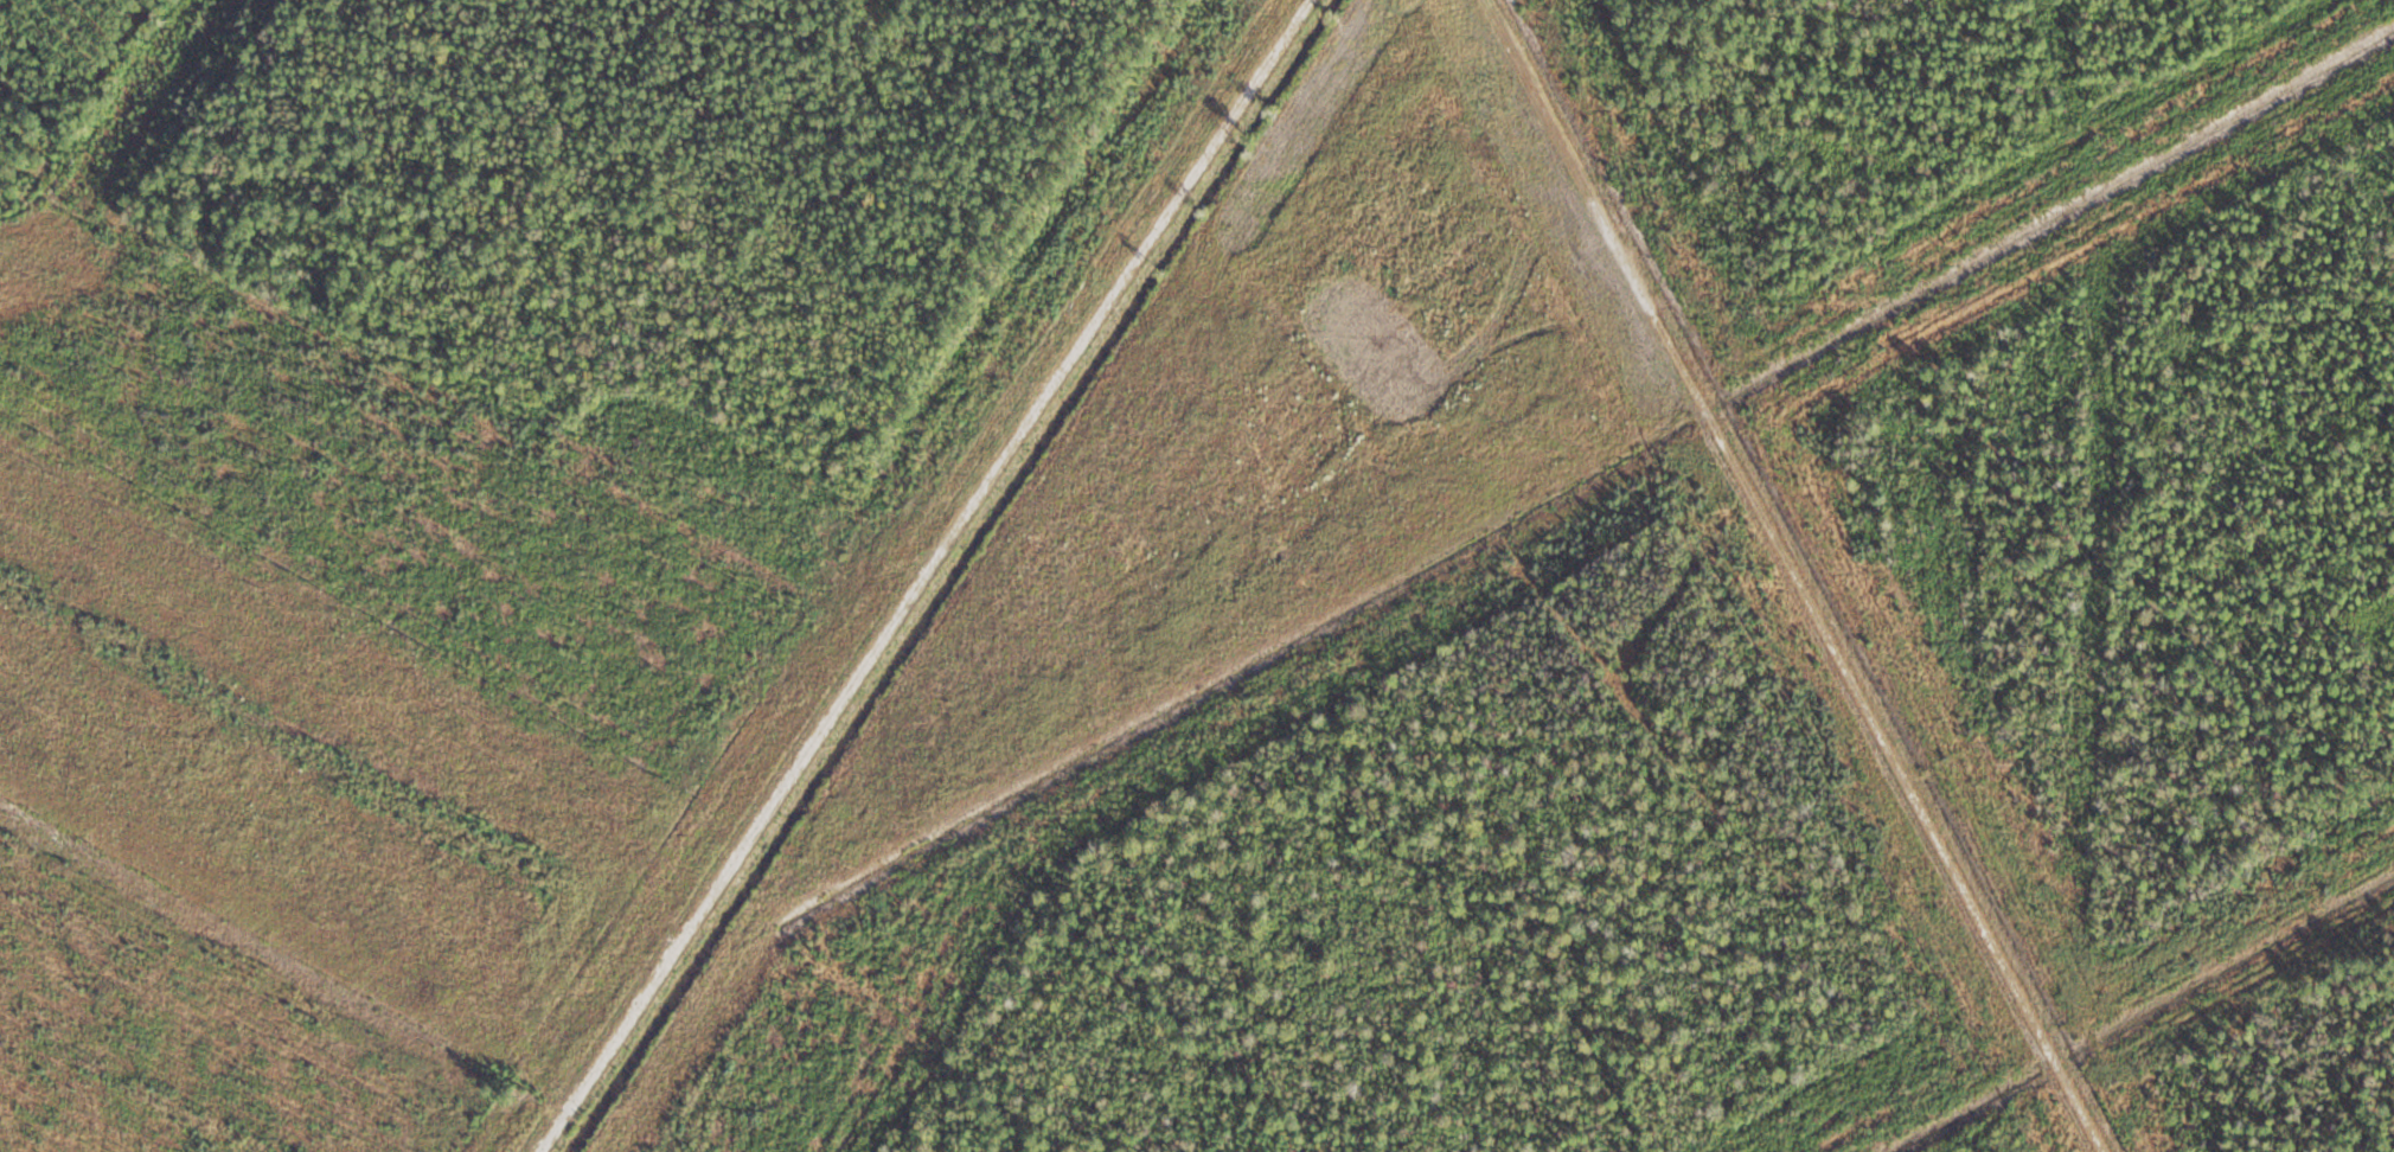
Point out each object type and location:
road: (959, 576)

